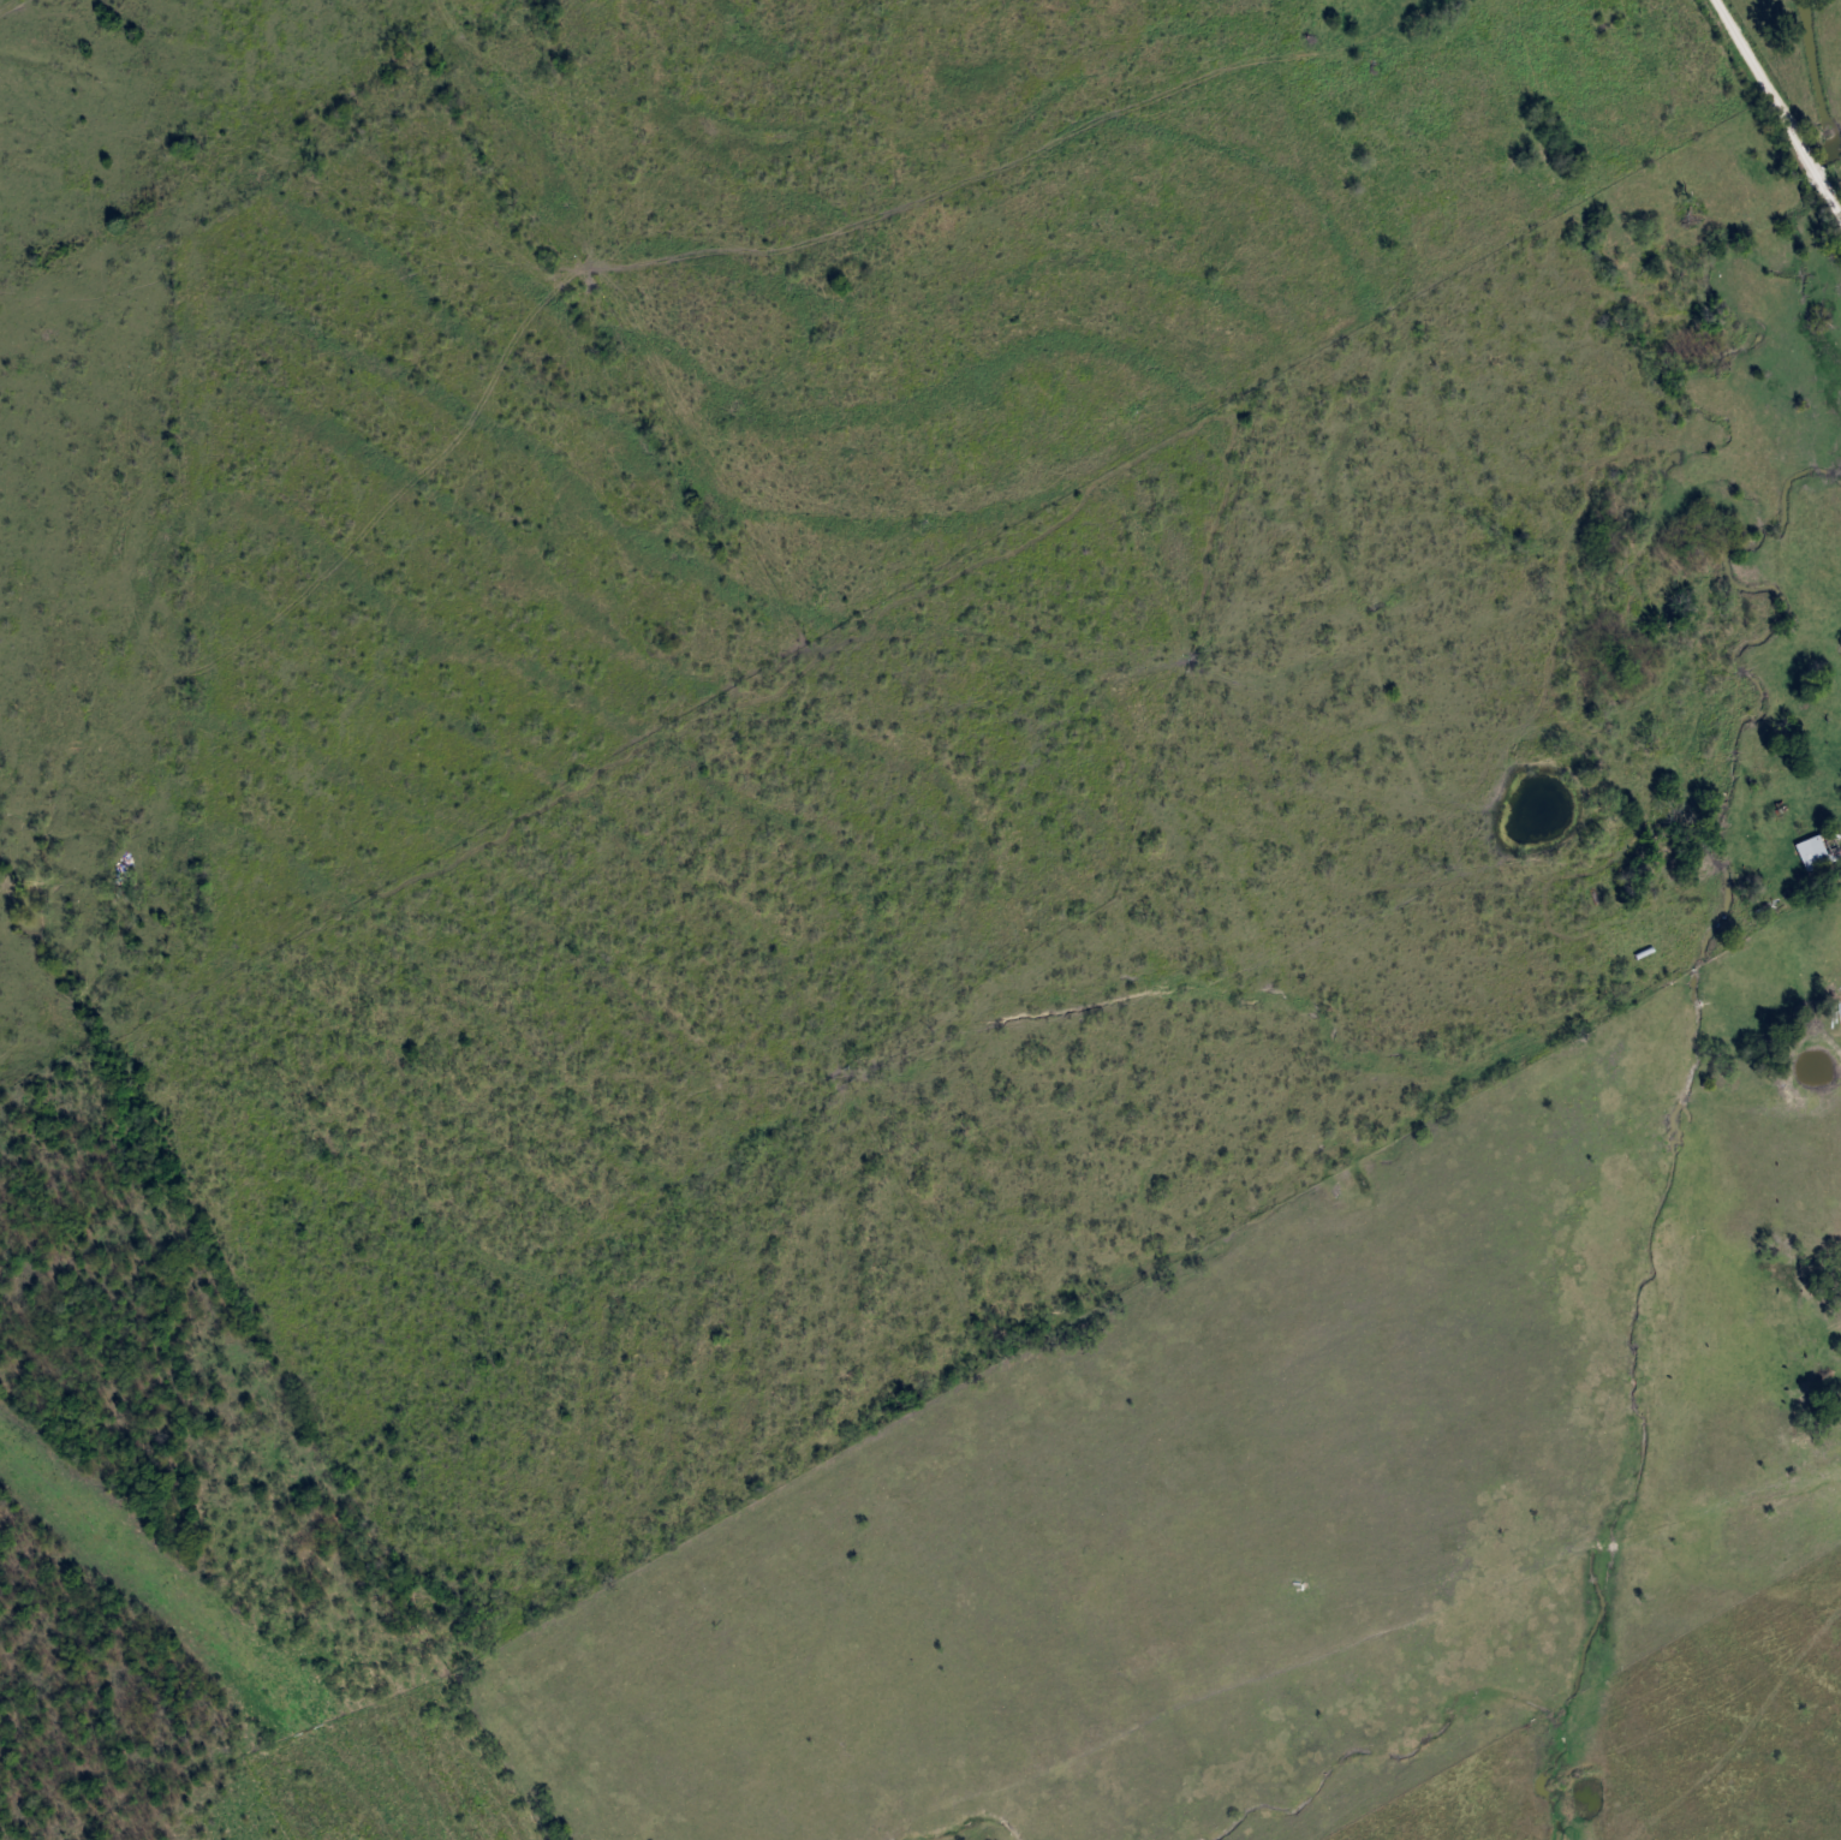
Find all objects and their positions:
road: (1775, 112)
building: (1819, 847)

